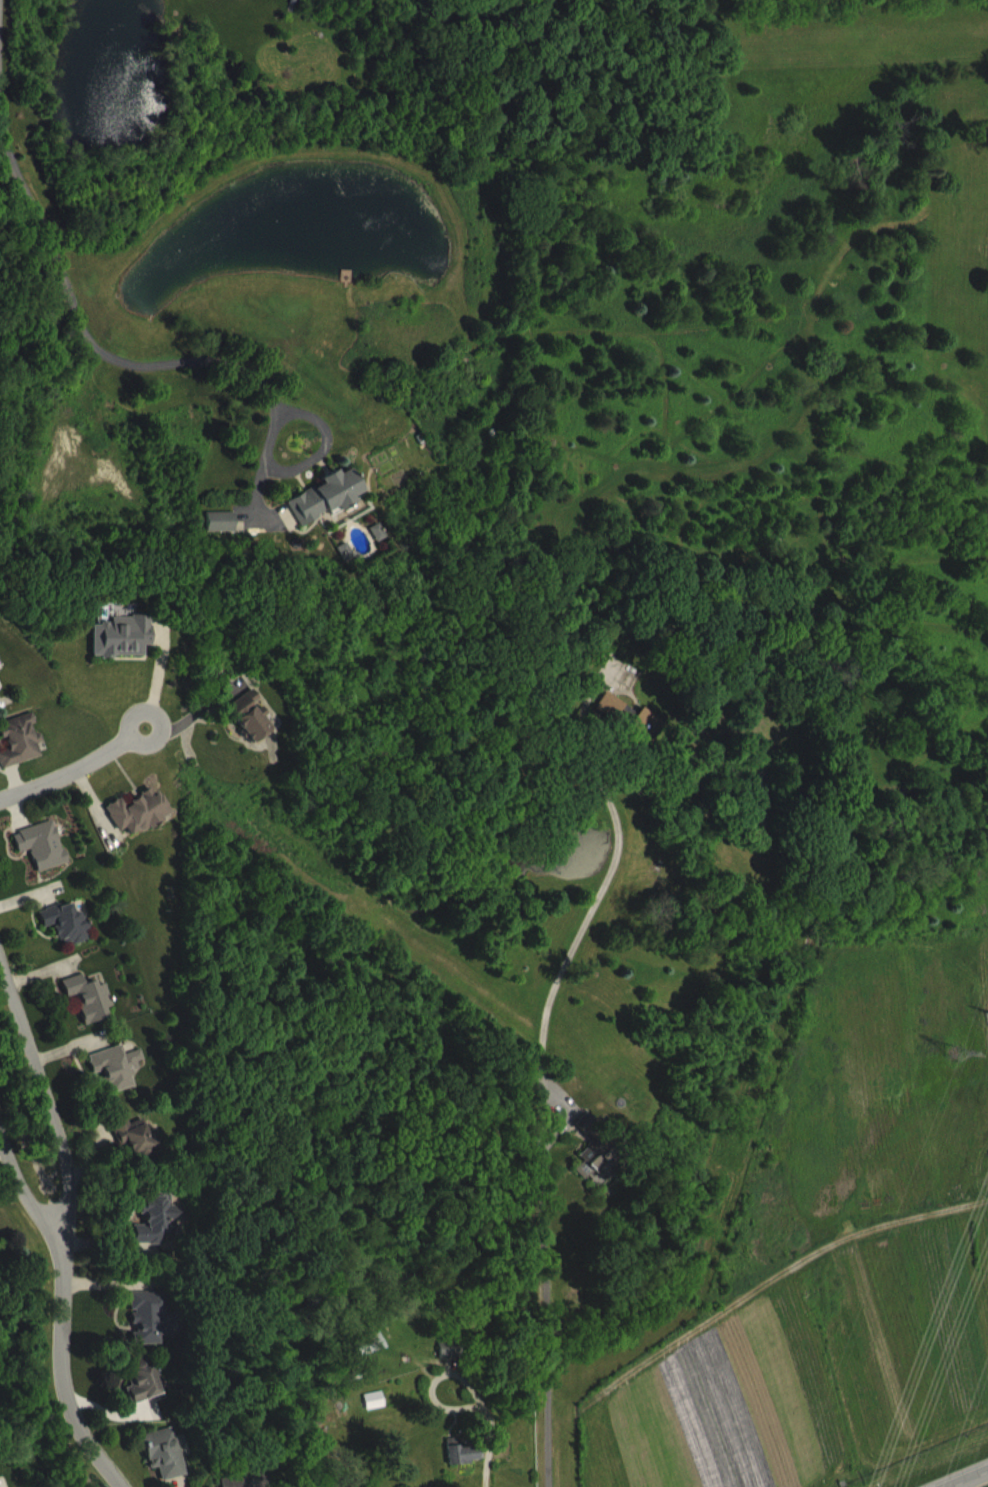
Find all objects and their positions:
road: (102, 347)
building: (331, 511)
building: (226, 536)
building: (384, 546)
building: (127, 651)
building: (0, 702)
road: (157, 715)
building: (618, 723)
building: (256, 730)
building: (650, 740)
building: (25, 755)
road: (54, 775)
building: (144, 826)
building: (48, 859)
building: (72, 938)
building: (96, 1012)
power tower: (954, 1052)
road: (538, 1059)
building: (123, 1081)
building: (595, 1138)
building: (141, 1149)
building: (605, 1175)
road: (23, 1182)
road: (61, 1227)
building: (158, 1235)
building: (0, 1258)
building: (155, 1330)
building: (372, 1360)
building: (149, 1394)
building: (382, 1414)
building: (327, 1450)
building: (472, 1464)
building: (170, 1465)
road: (946, 1470)

